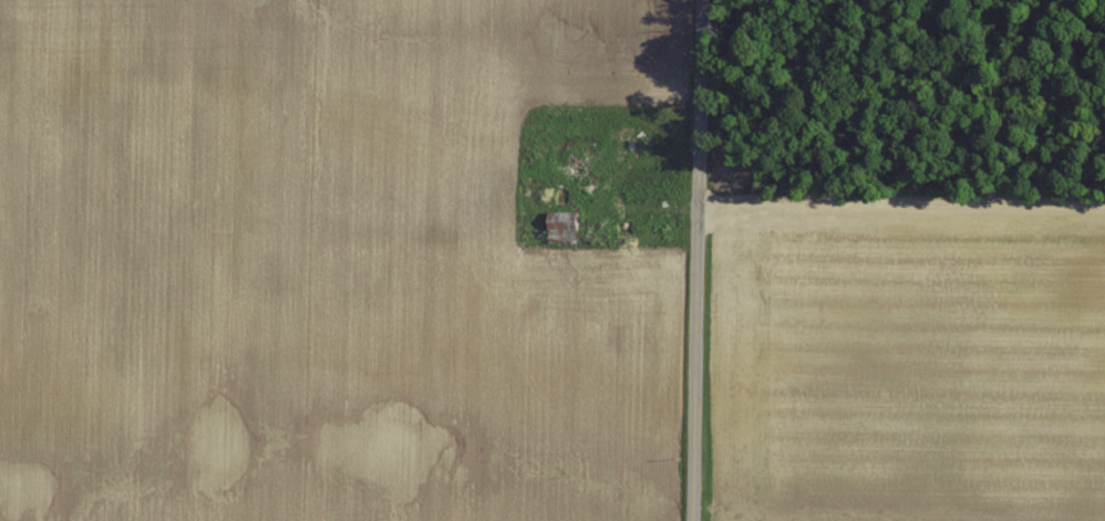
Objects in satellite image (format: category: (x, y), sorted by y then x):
road: (693, 260)

